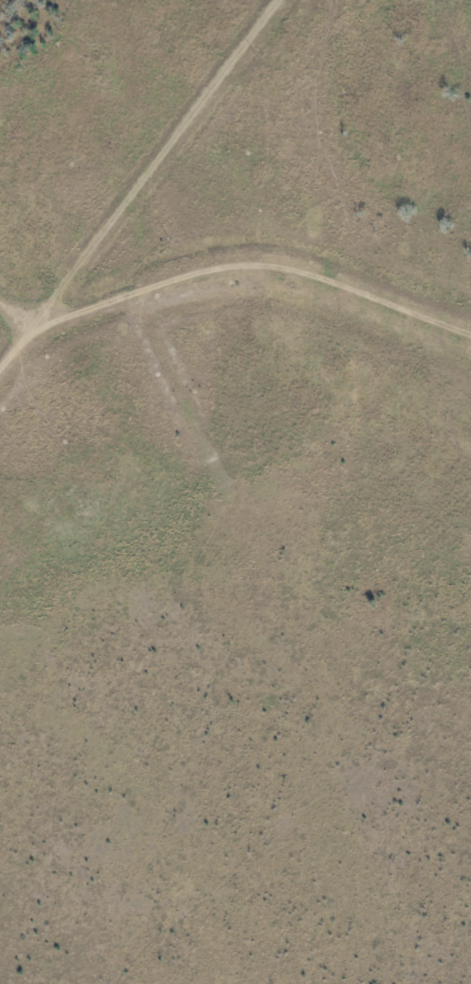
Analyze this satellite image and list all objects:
road: (139, 182)
road: (247, 264)

